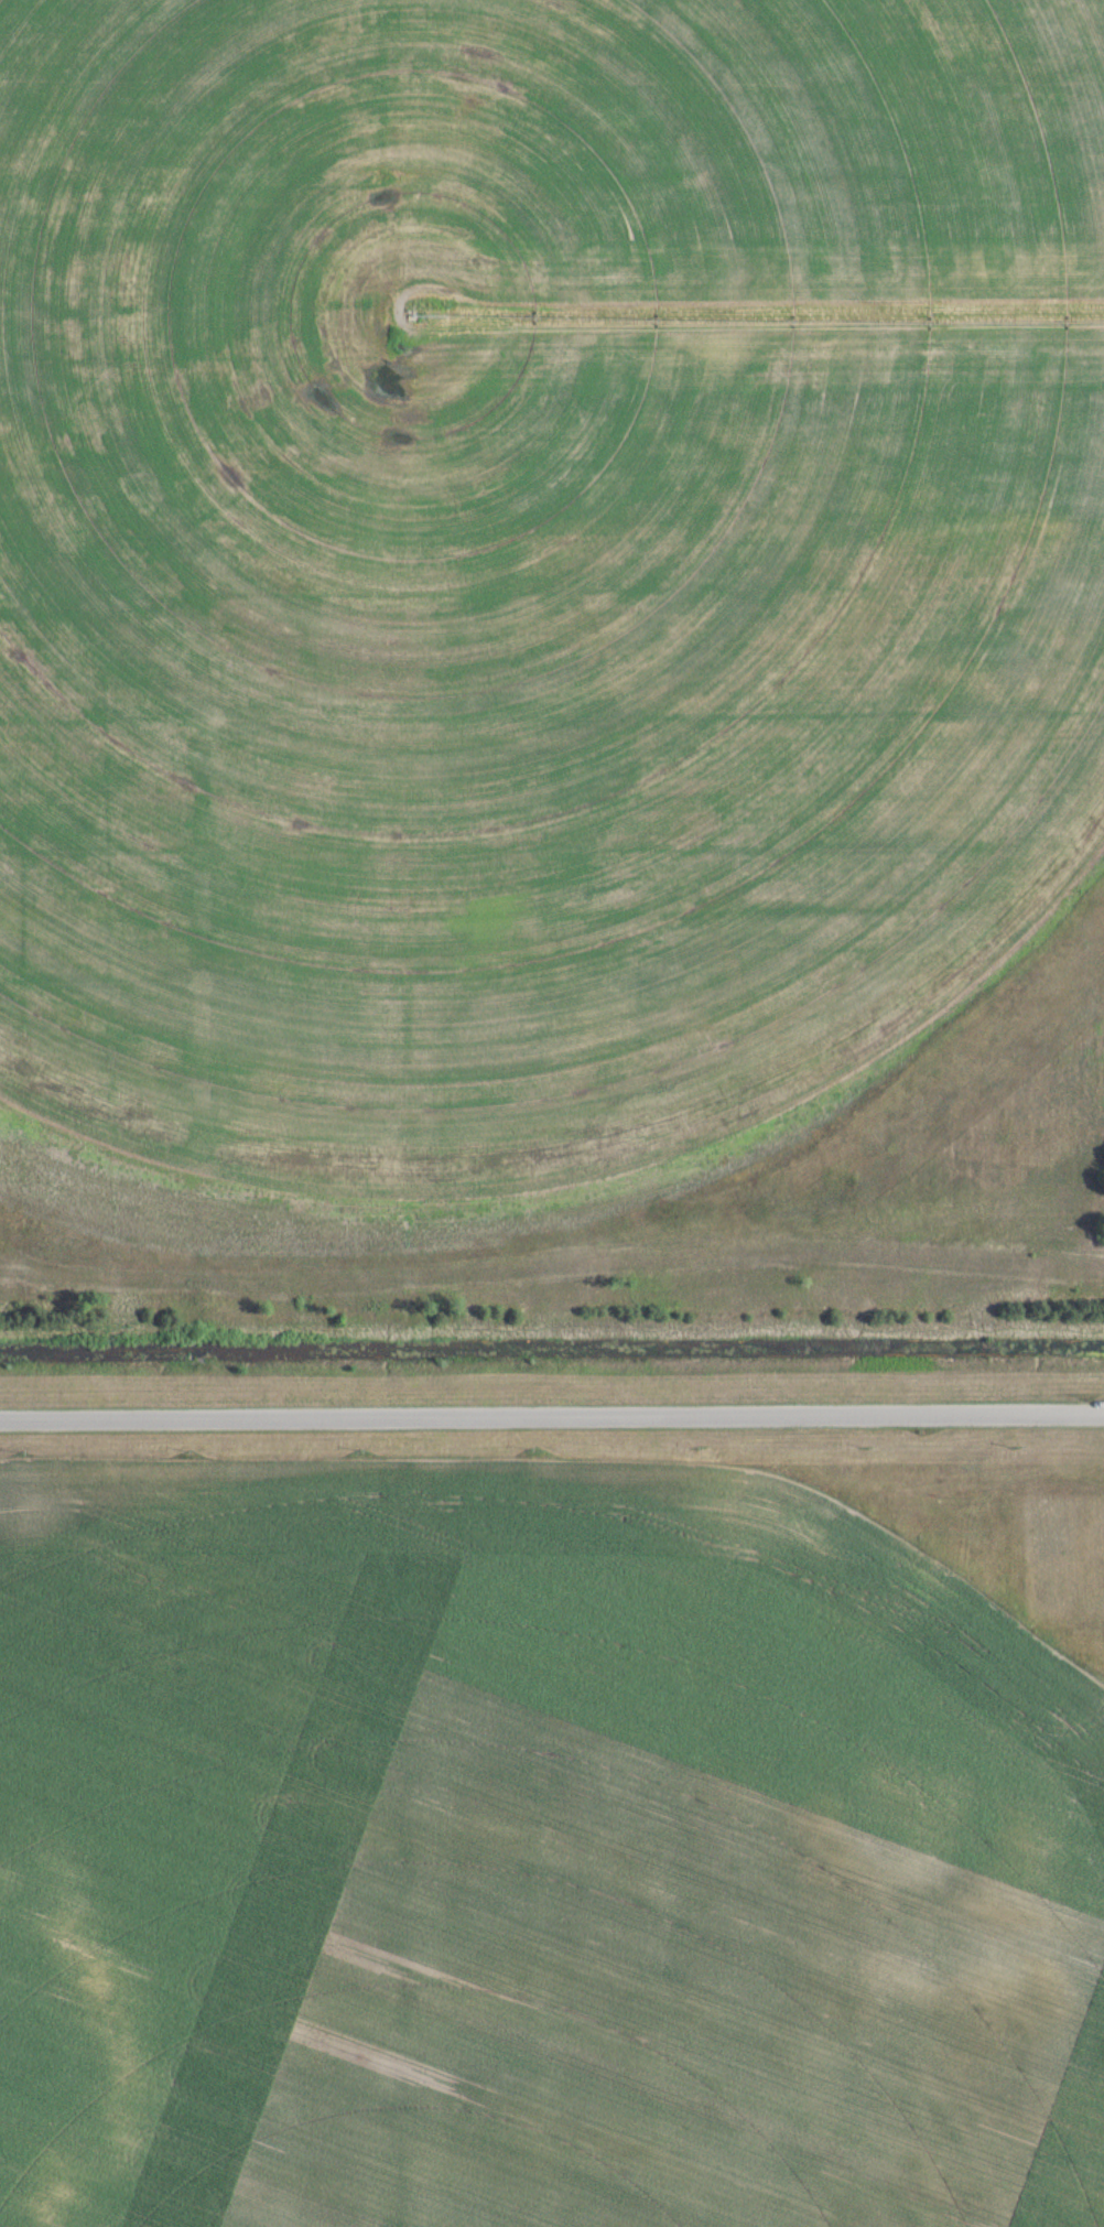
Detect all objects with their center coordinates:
wastewater plant: (552, 1113)
road: (552, 1414)

